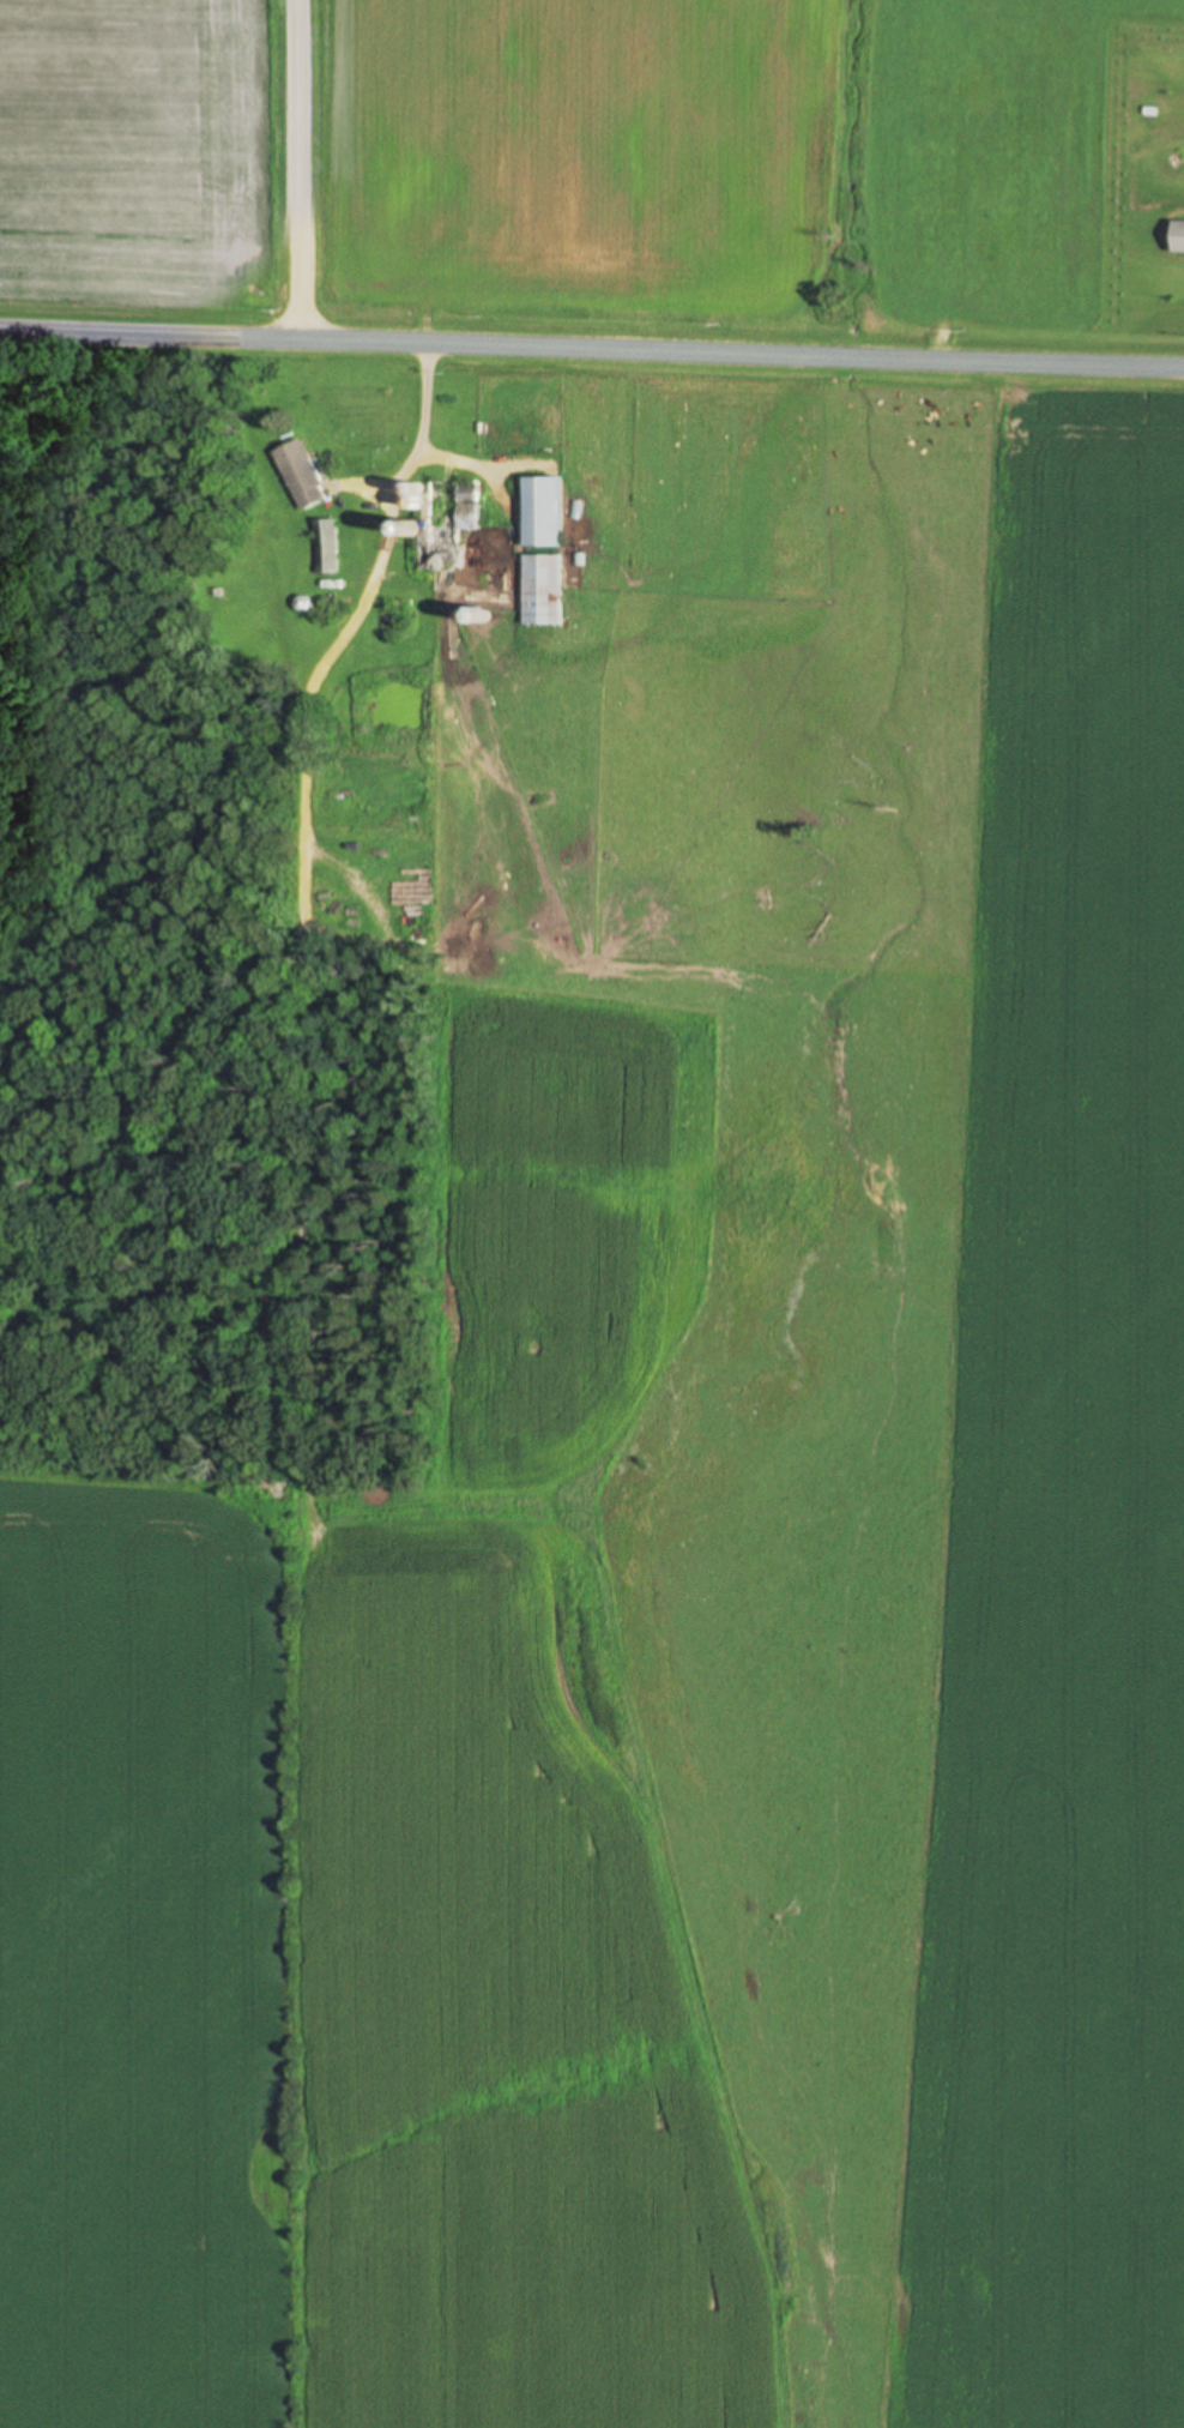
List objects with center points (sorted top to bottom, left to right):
road: (304, 171)
building: (1176, 237)
road: (591, 354)
building: (298, 475)
building: (538, 513)
building: (447, 524)
building: (322, 548)
building: (538, 591)

